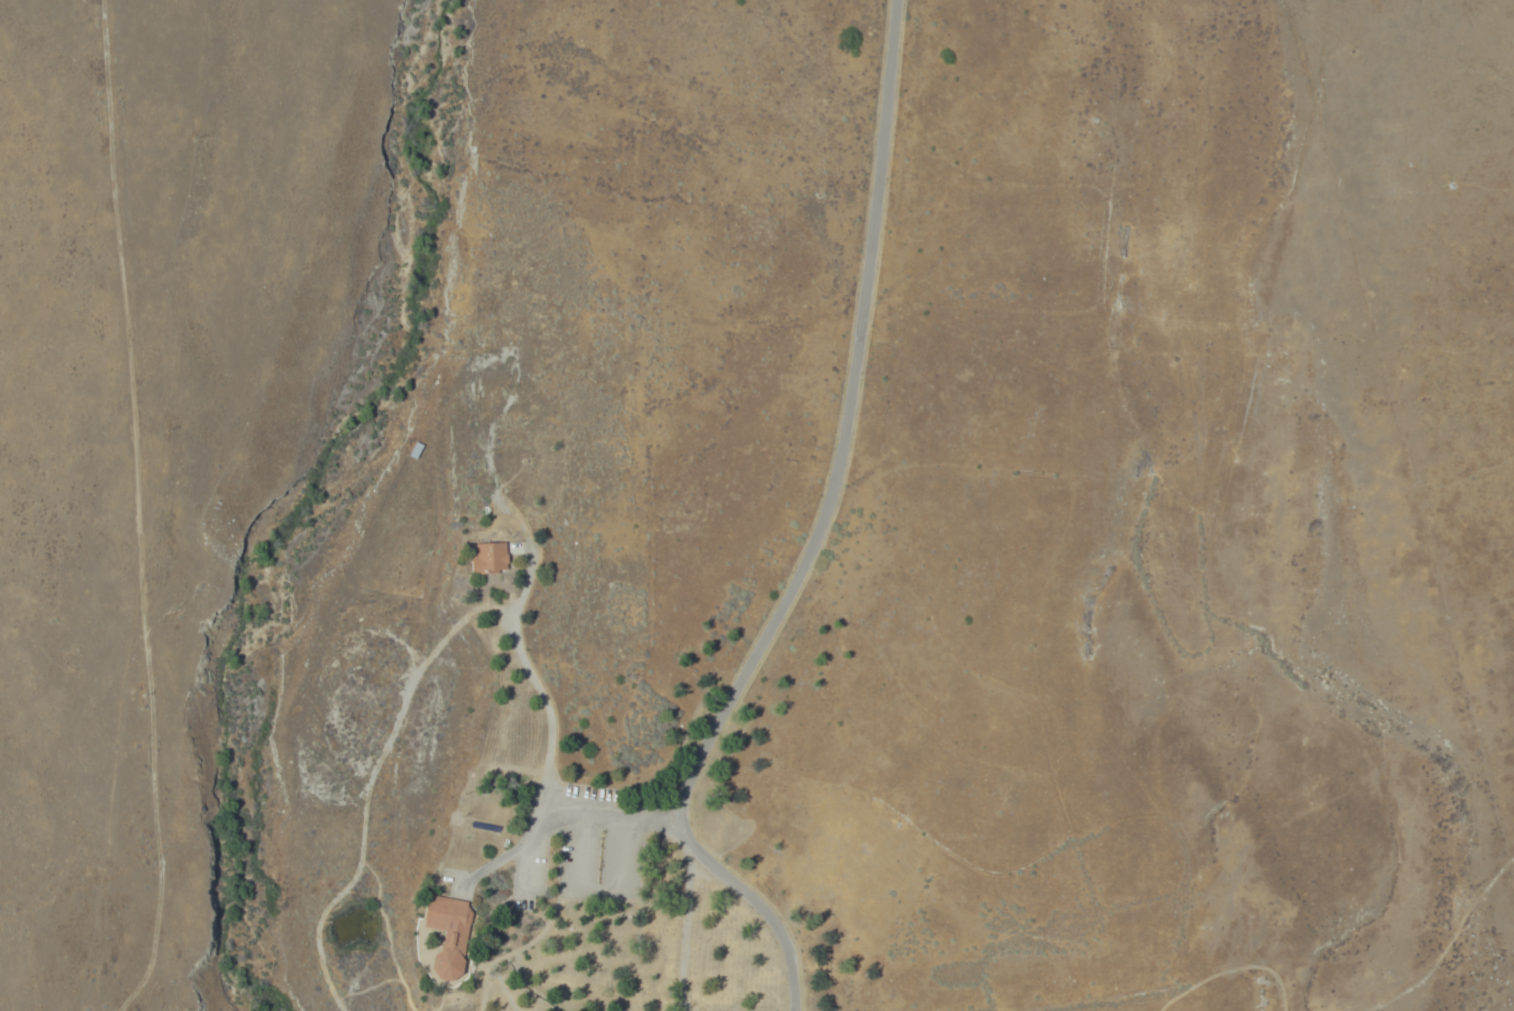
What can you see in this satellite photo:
building: (491, 558)
road: (765, 645)
road: (539, 685)
road: (369, 779)
parking lot: (580, 848)
road: (760, 903)
road: (552, 917)
building: (450, 933)
road: (526, 990)
road: (1132, 1002)

